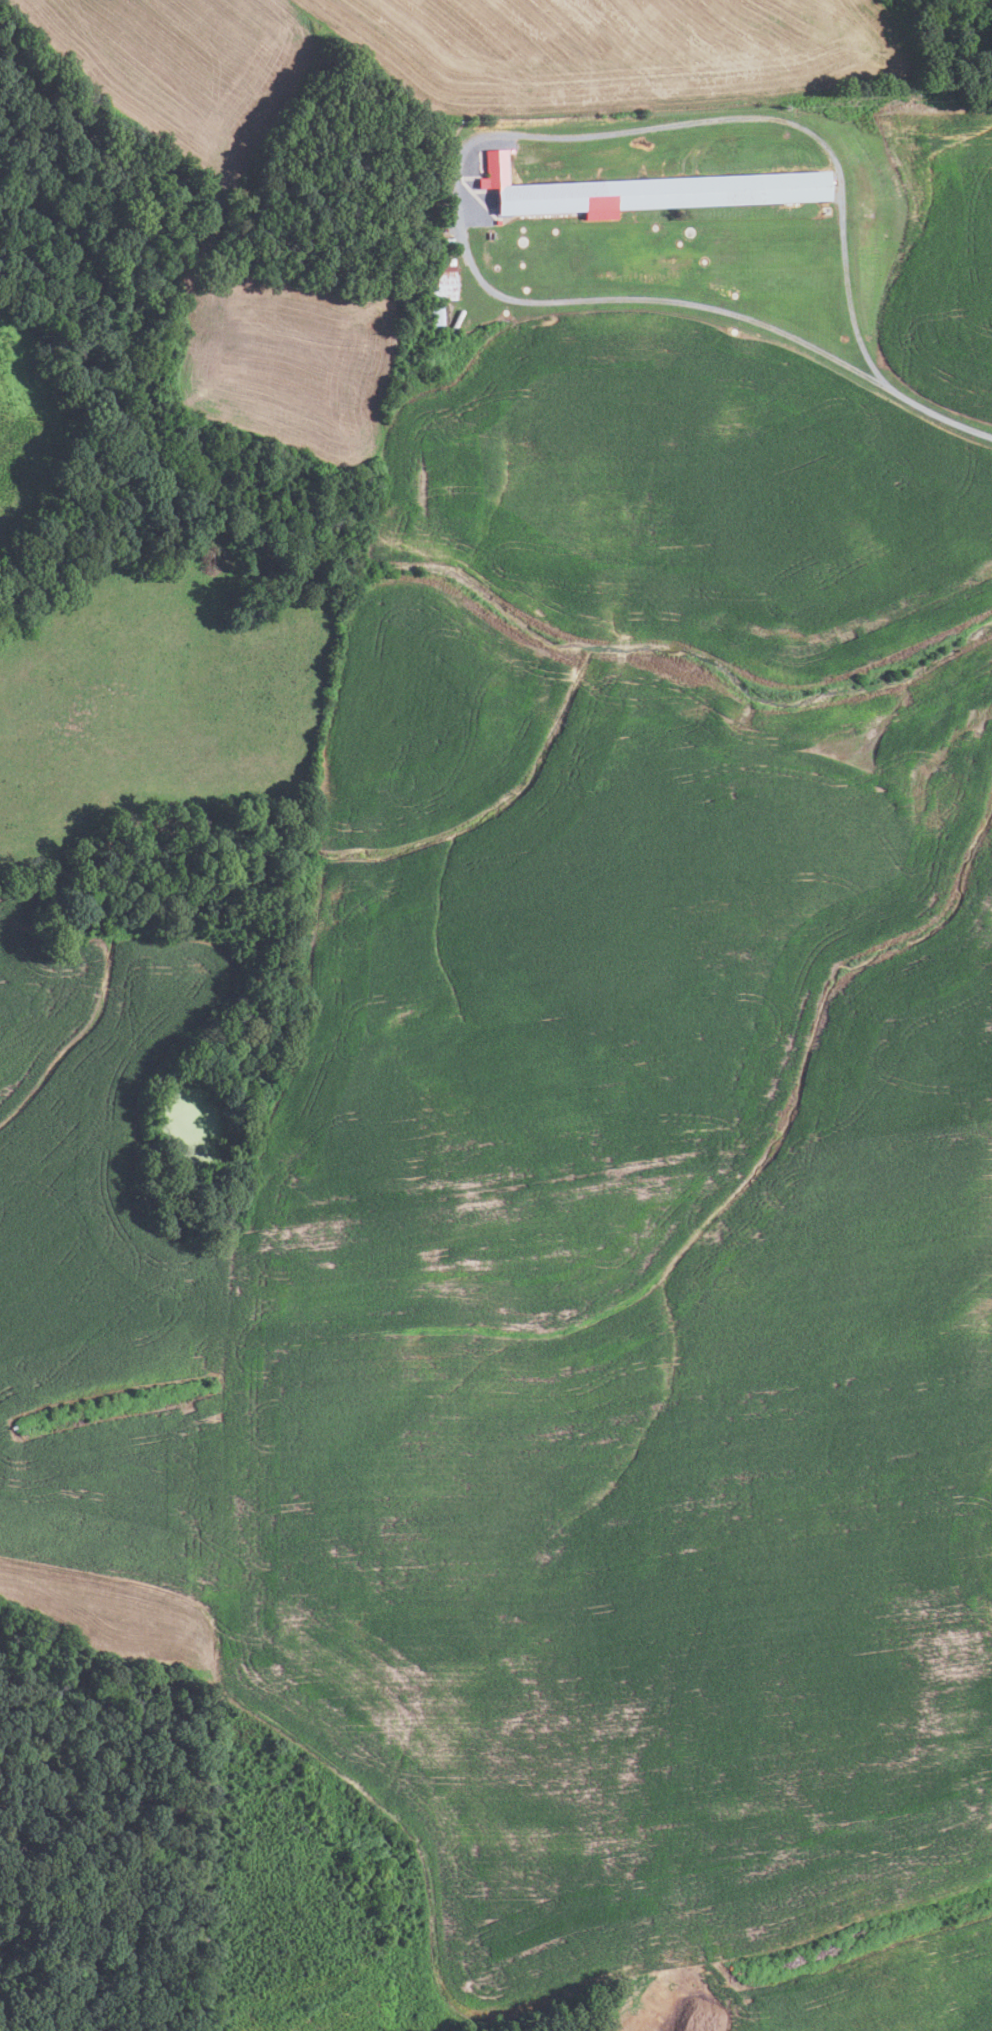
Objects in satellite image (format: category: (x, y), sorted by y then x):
crop: (617, 54)
crop: (179, 63)
road: (491, 136)
building: (648, 191)
building: (443, 286)
building: (437, 314)
crop: (289, 354)
road: (939, 416)
crop: (691, 500)
crop: (104, 1267)
crop: (632, 1322)
crop: (115, 1621)
crop: (920, 2011)

